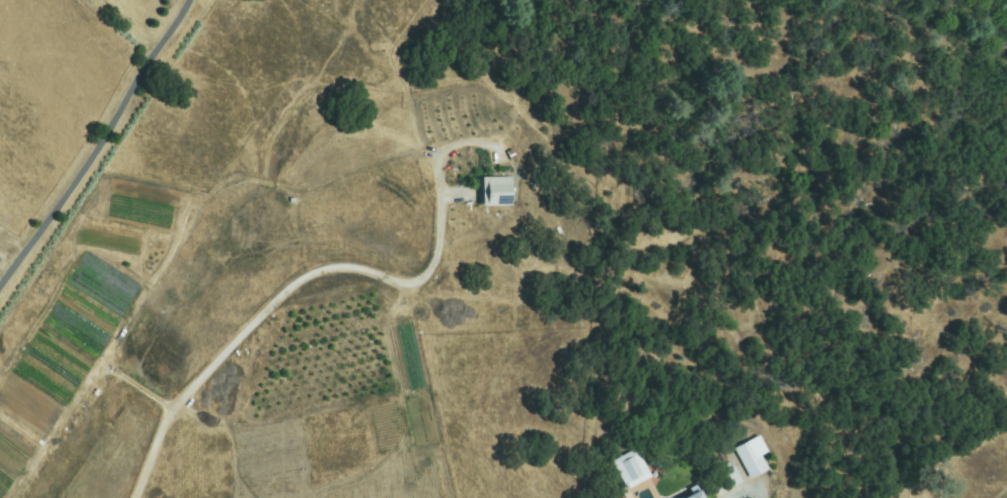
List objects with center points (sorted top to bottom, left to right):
building: (497, 193)
building: (752, 458)
building: (631, 469)
building: (729, 477)
building: (692, 495)

